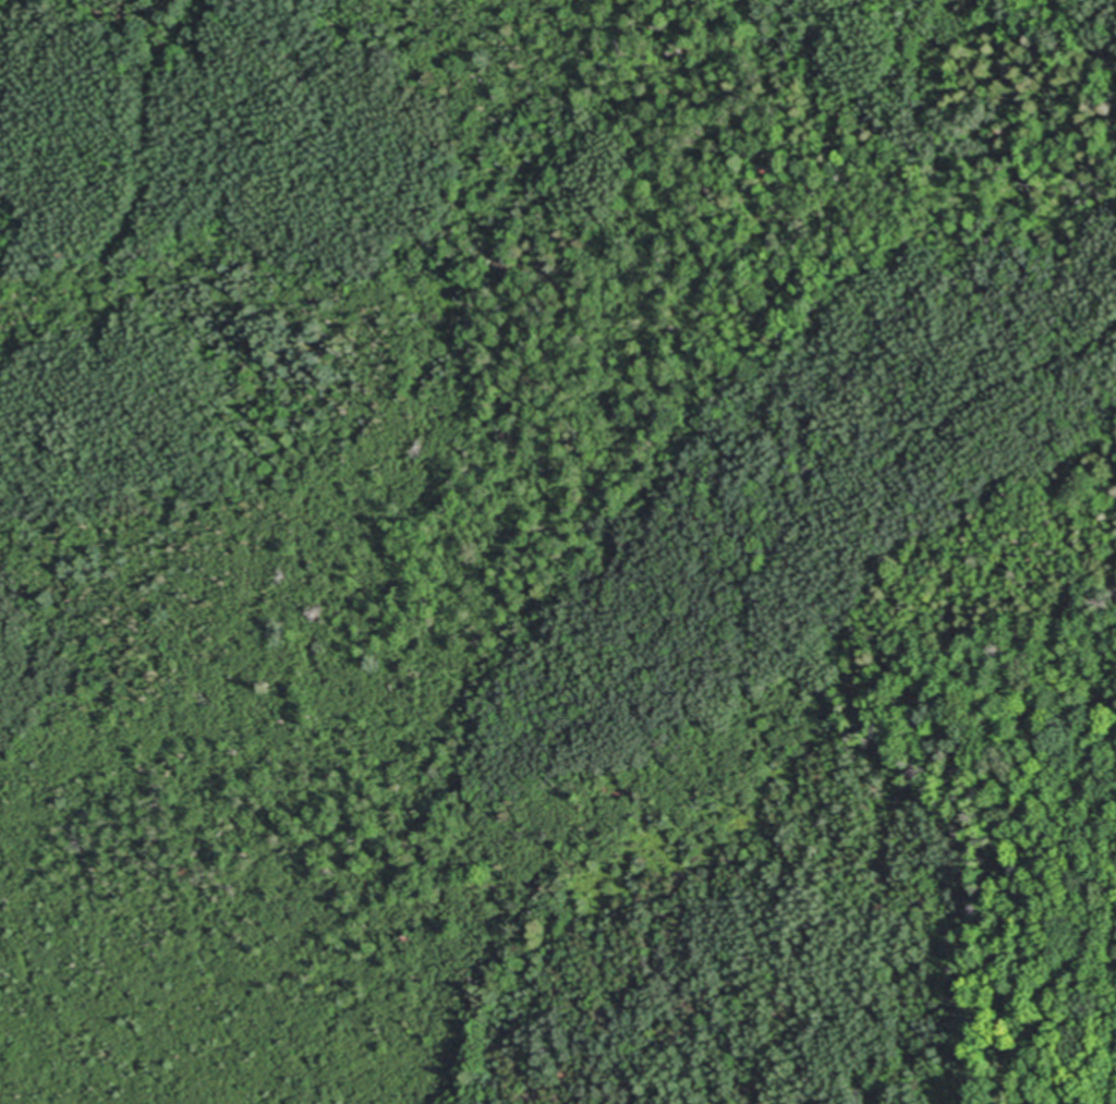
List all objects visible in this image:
park: (1092, 1094)

